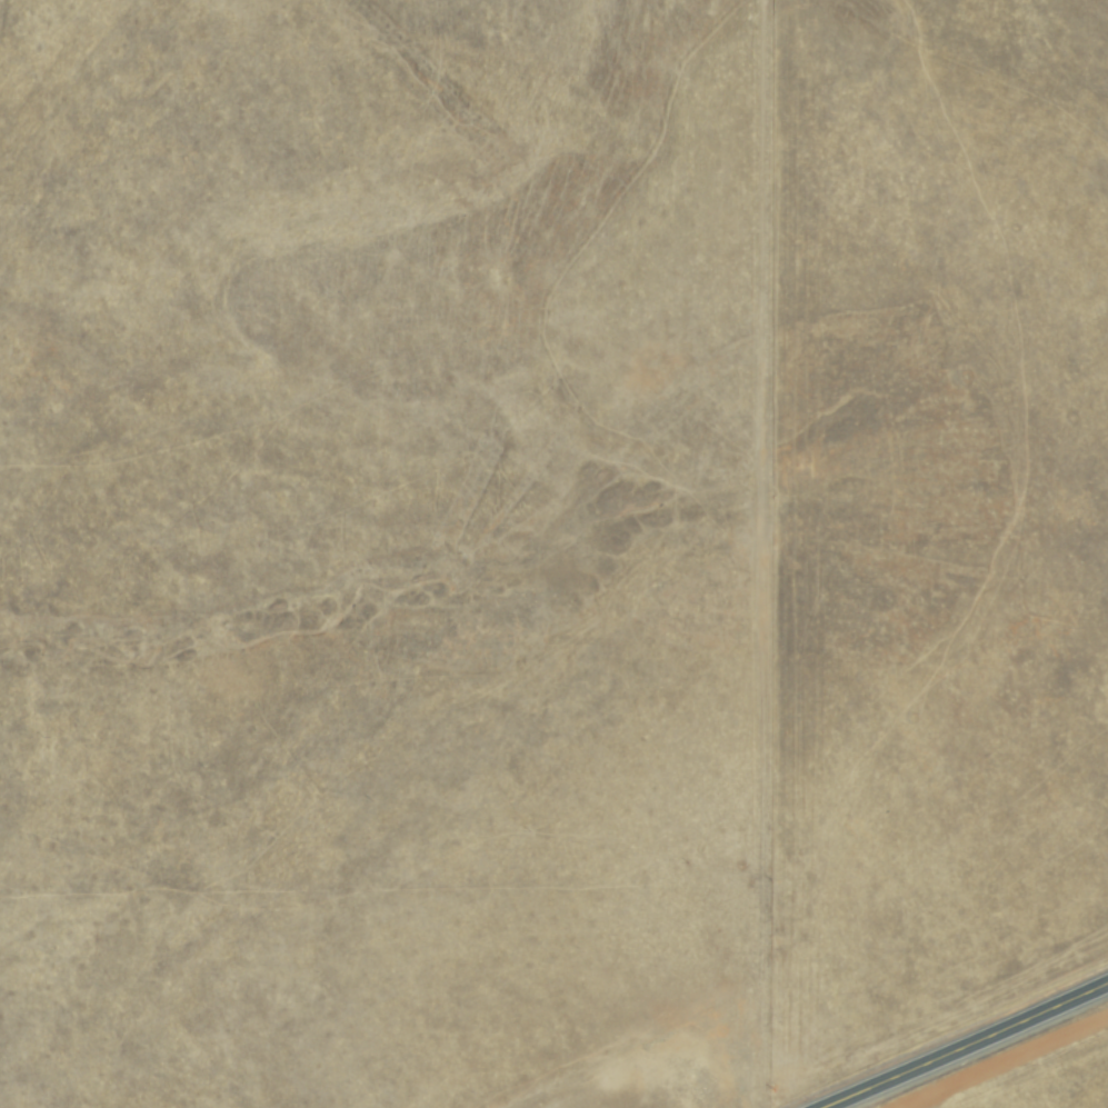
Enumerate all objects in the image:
road: (960, 1044)
airport: (1017, 1067)

